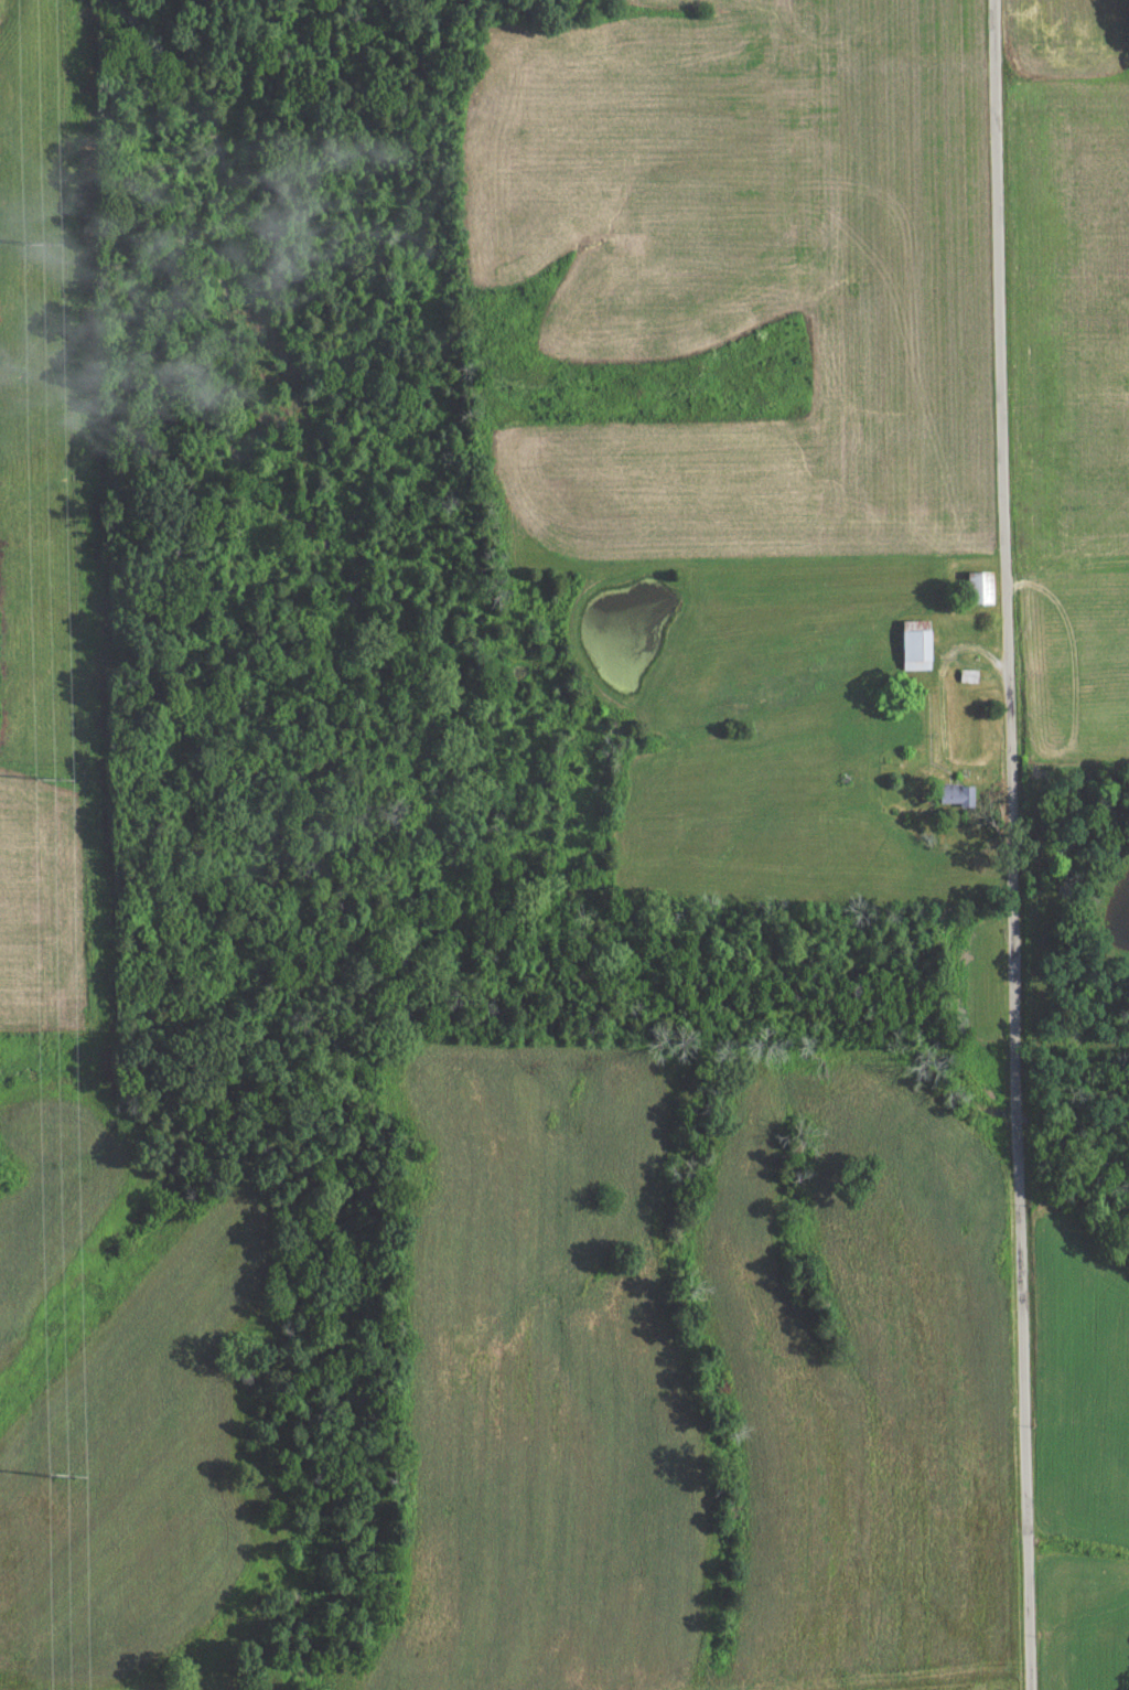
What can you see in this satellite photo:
power tower: (32, 243)
building: (970, 593)
power tower: (47, 779)
building: (948, 800)
road: (1012, 845)
power tower: (61, 1478)

